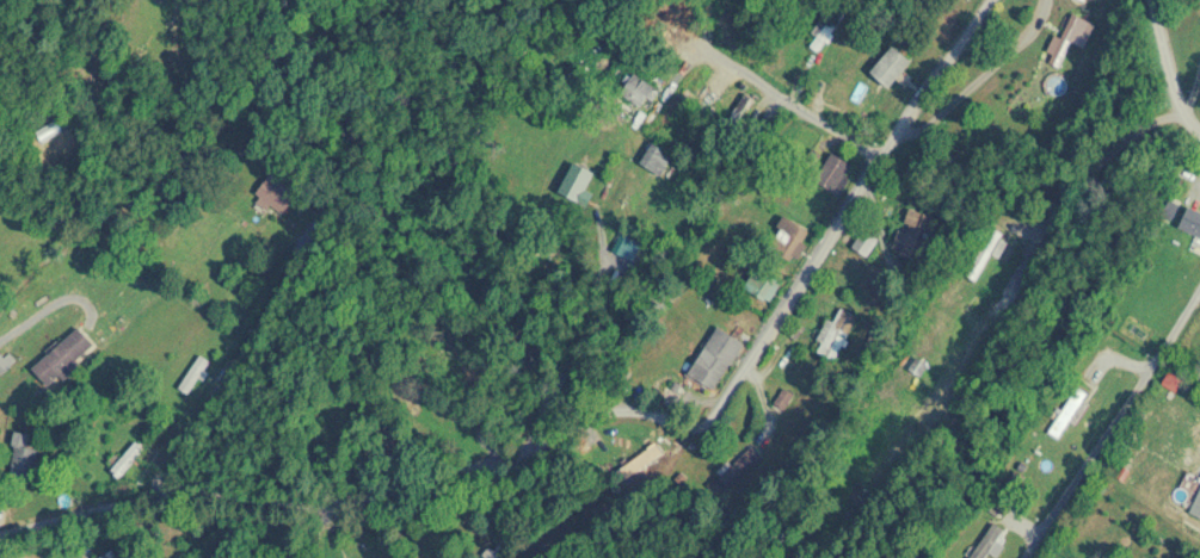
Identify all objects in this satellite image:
road: (1196, 6)
building: (824, 27)
building: (1071, 37)
building: (891, 67)
road: (767, 88)
building: (636, 91)
building: (656, 159)
building: (833, 173)
building: (577, 184)
building: (276, 193)
building: (1192, 221)
building: (915, 234)
building: (792, 238)
building: (864, 243)
building: (985, 253)
building: (764, 285)
road: (47, 308)
building: (835, 335)
building: (63, 356)
building: (714, 359)
building: (195, 373)
road: (222, 379)
road: (601, 410)
road: (1113, 423)
building: (24, 460)
building: (127, 460)
building: (739, 465)
building: (1016, 480)
building: (1196, 507)
building: (987, 542)
building: (501, 551)
building: (109, 556)

